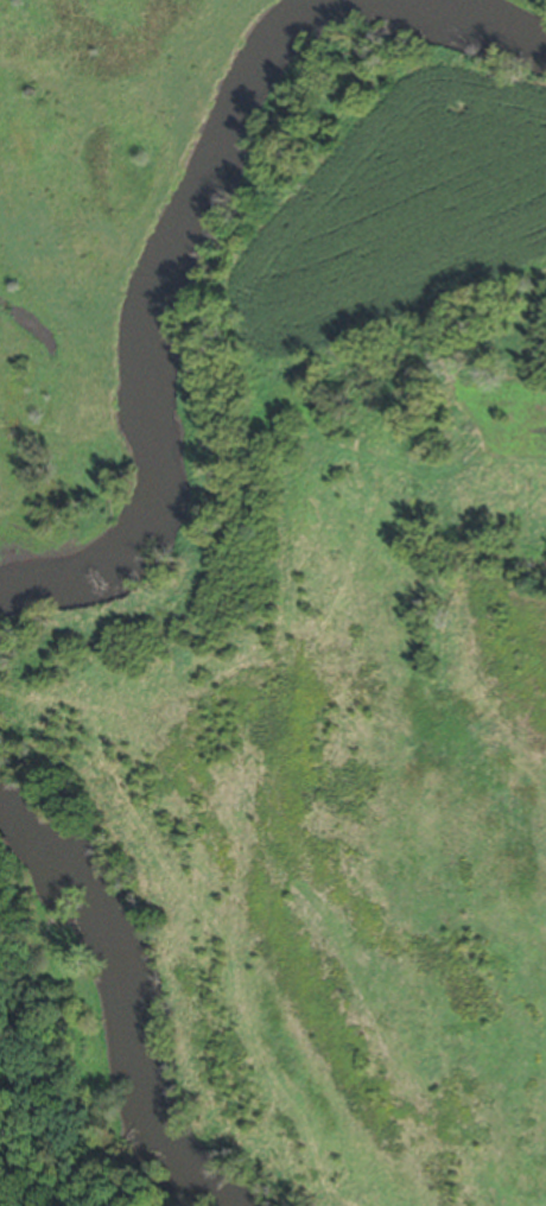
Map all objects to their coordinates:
river: (207, 239)
river: (125, 997)

